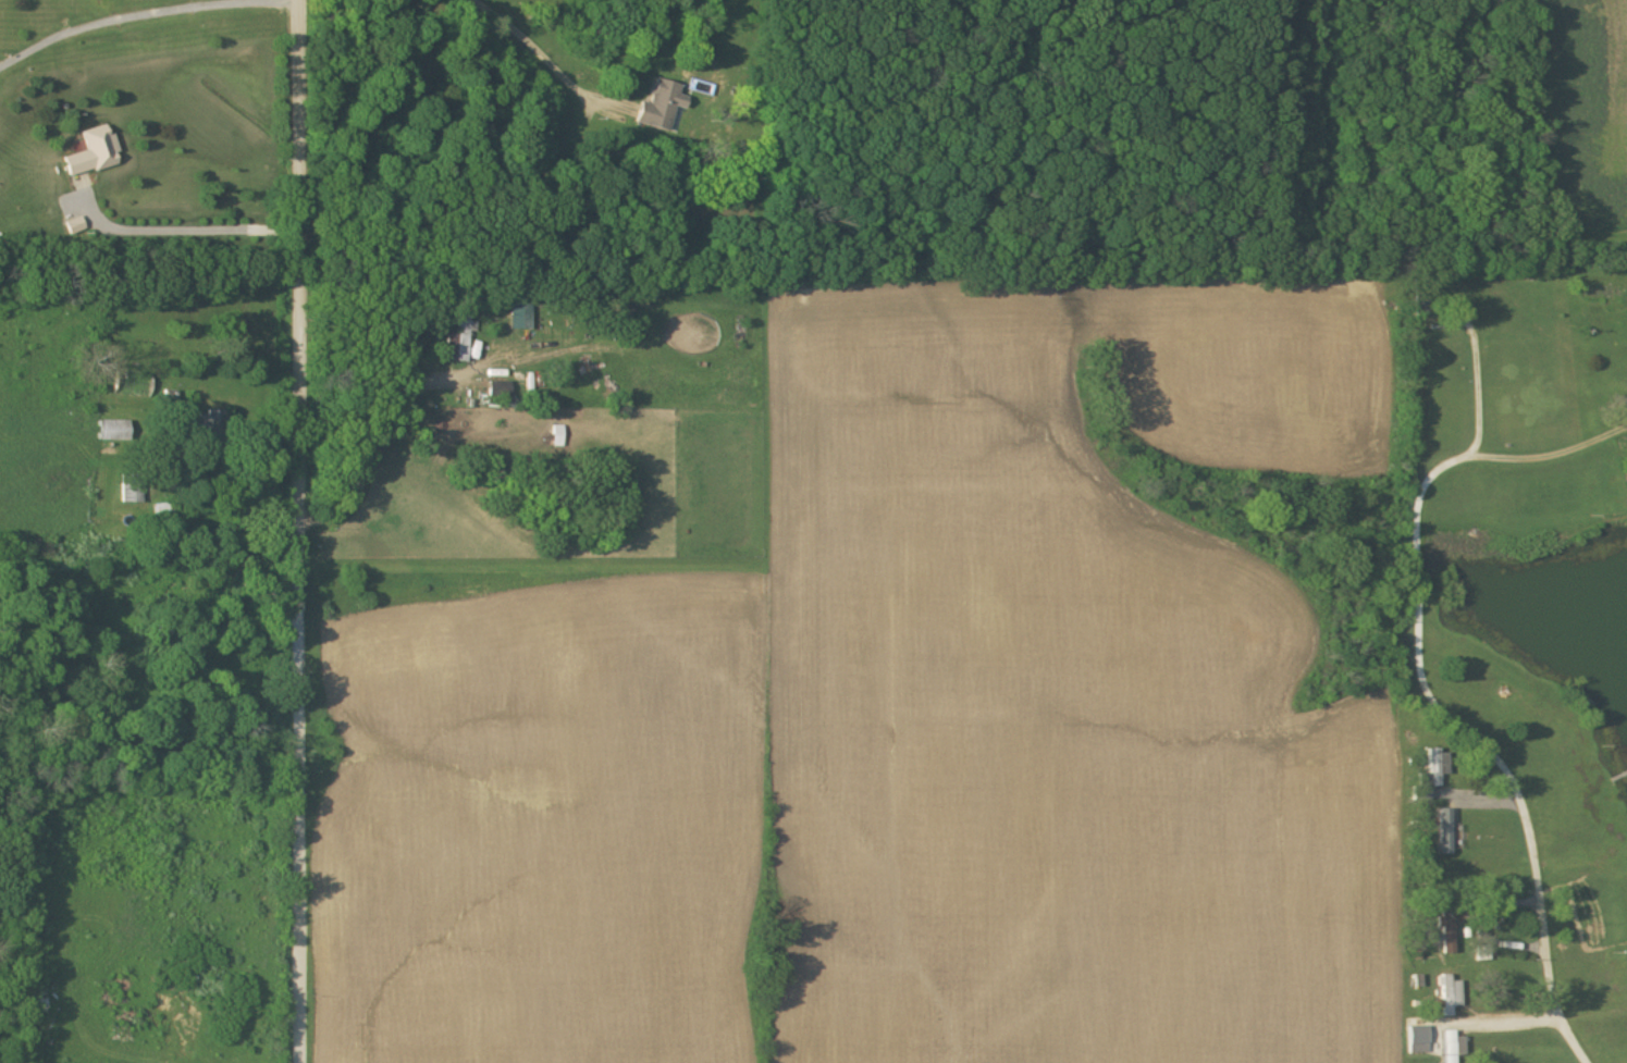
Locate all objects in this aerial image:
road: (144, 12)
road: (534, 54)
building: (660, 107)
building: (93, 153)
building: (74, 226)
building: (461, 342)
building: (112, 431)
building: (557, 436)
road: (375, 438)
building: (132, 495)
road: (299, 531)
road: (1425, 687)
building: (1428, 778)
building: (1444, 831)
building: (1445, 932)
building: (1483, 953)
building: (1449, 996)
building: (1417, 1040)
building: (1452, 1047)

